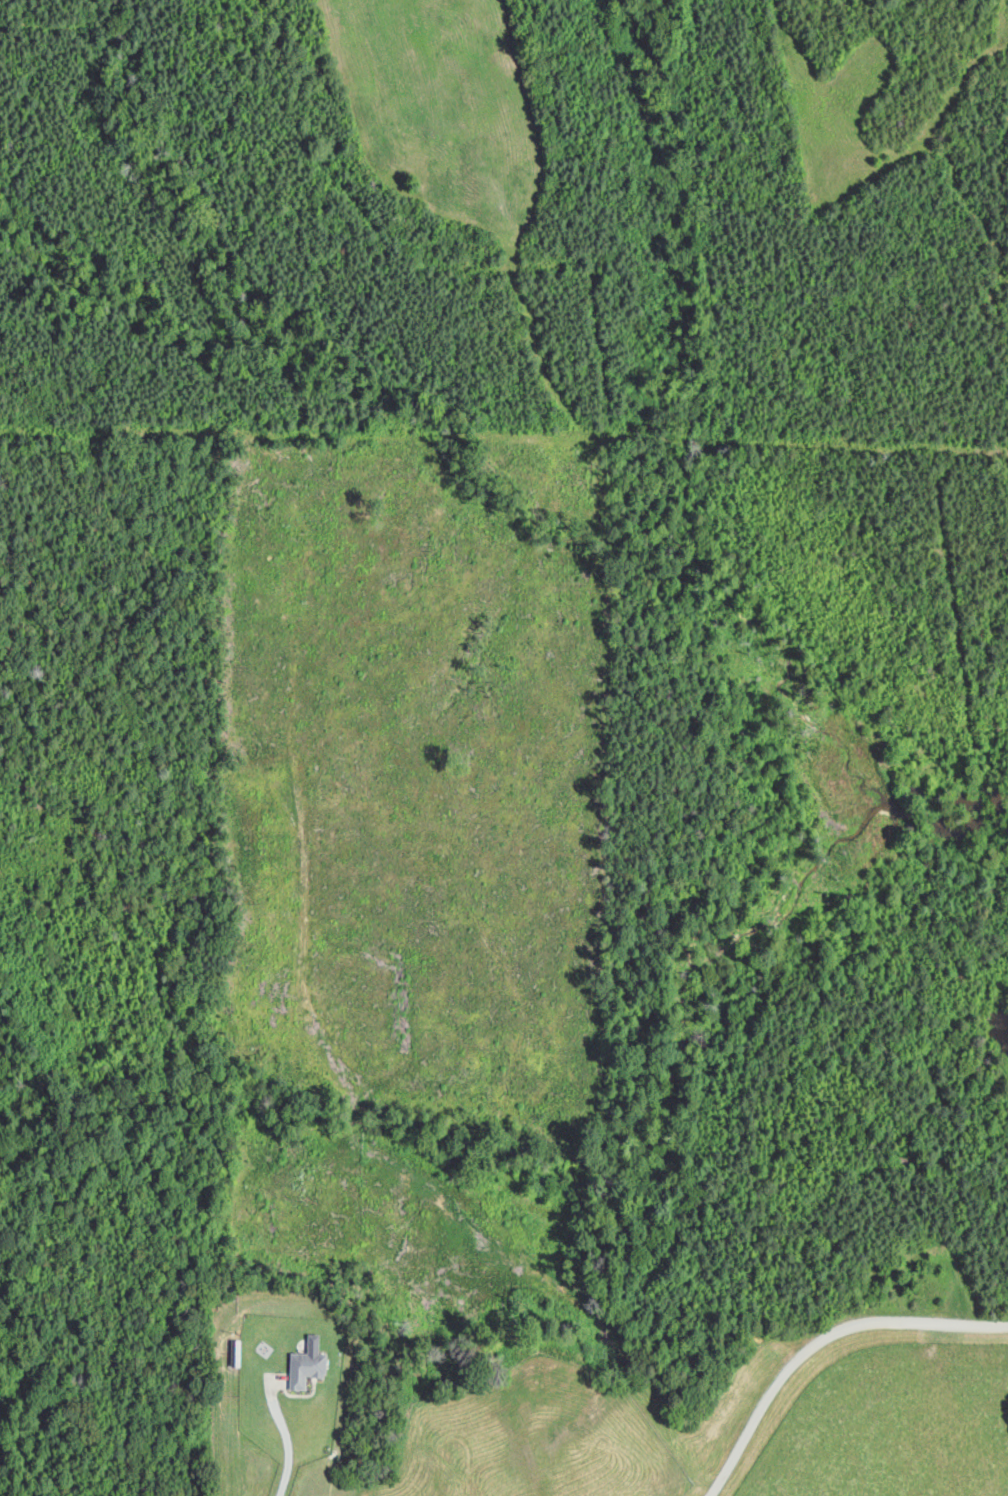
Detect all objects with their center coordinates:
road: (819, 1340)
building: (311, 1363)
road: (287, 1438)

